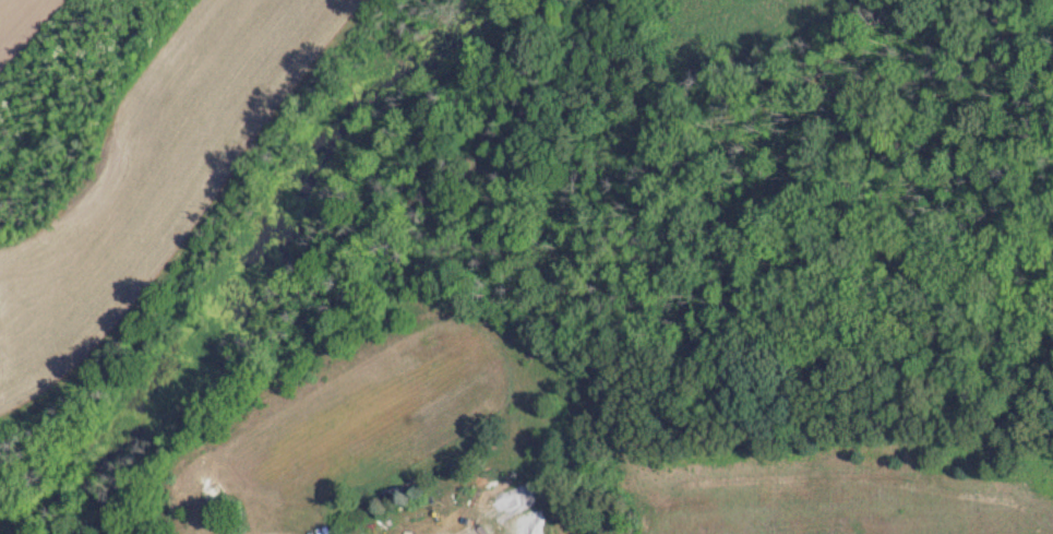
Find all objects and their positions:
road: (210, 219)
road: (67, 476)

